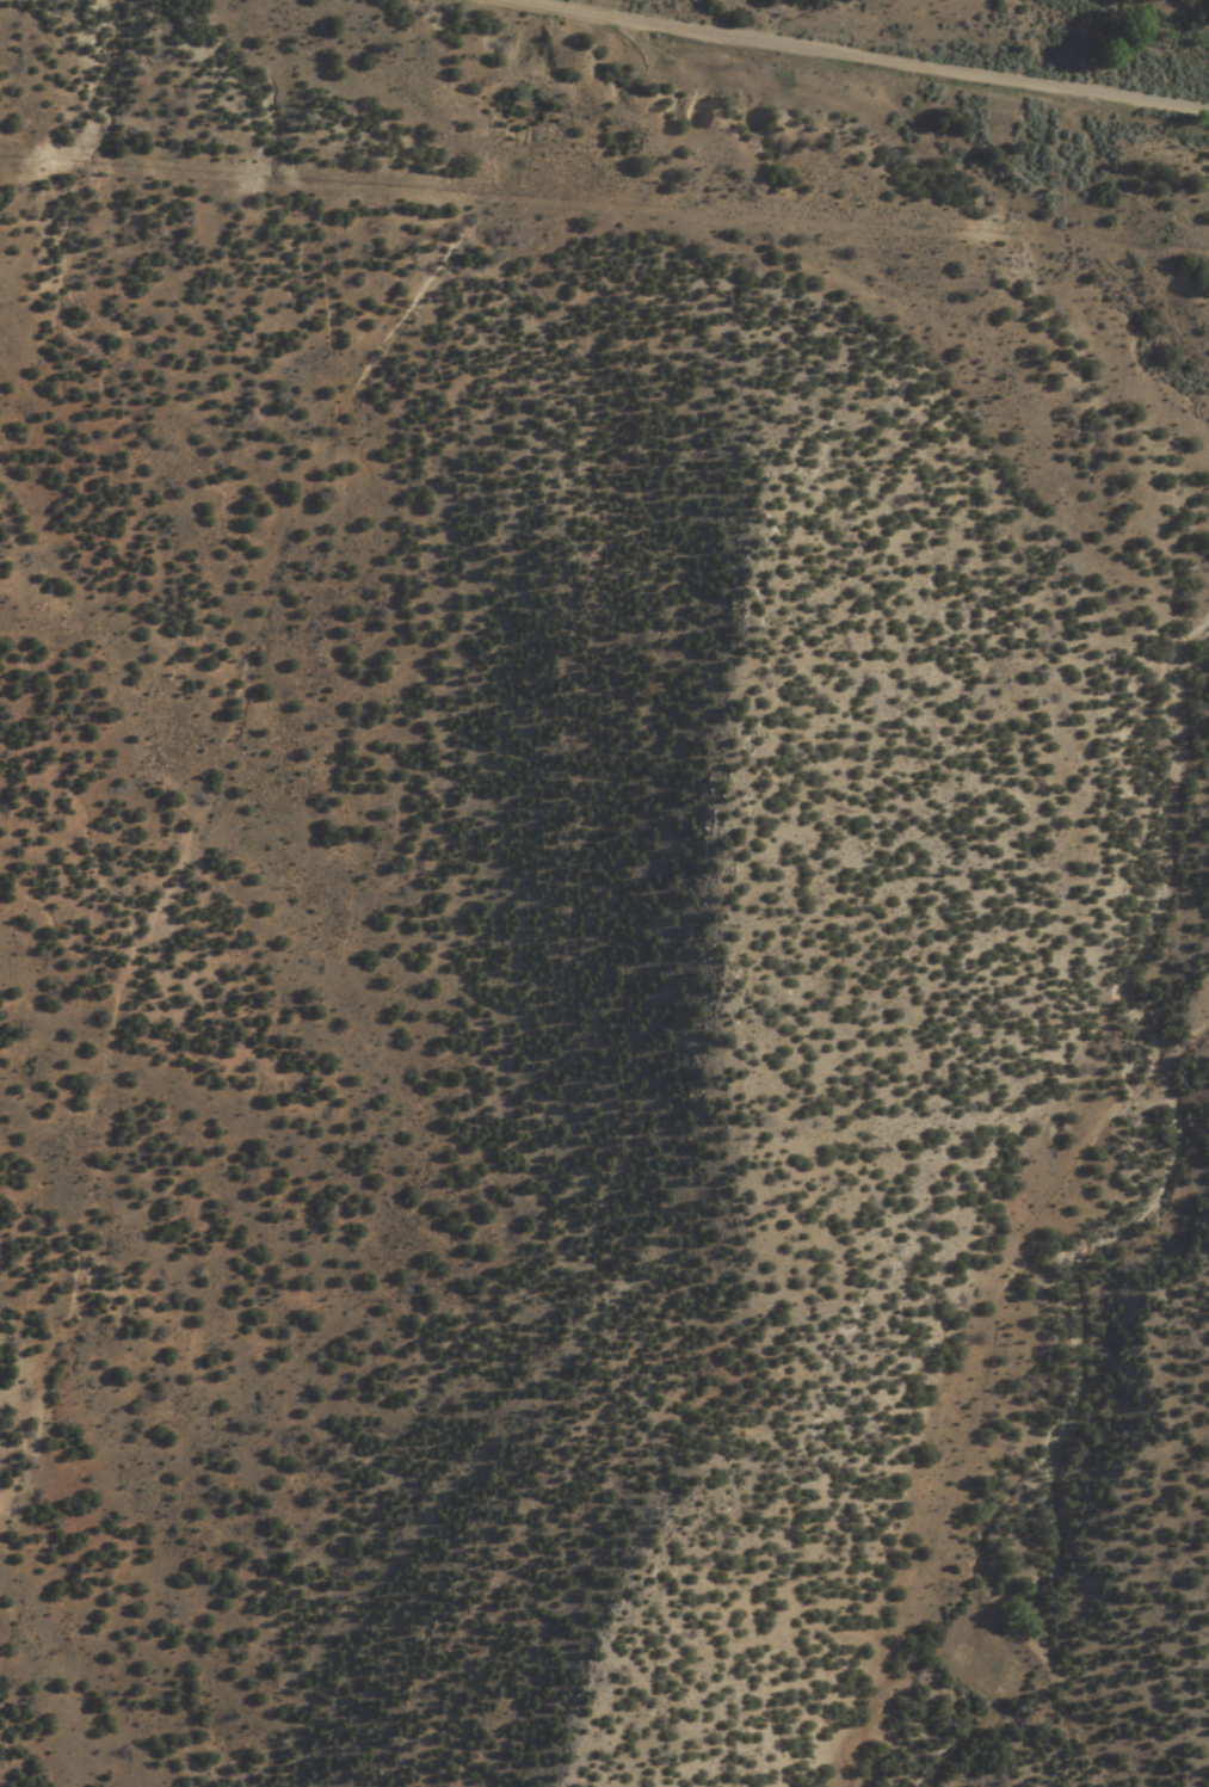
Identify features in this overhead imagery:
road: (872, 55)

